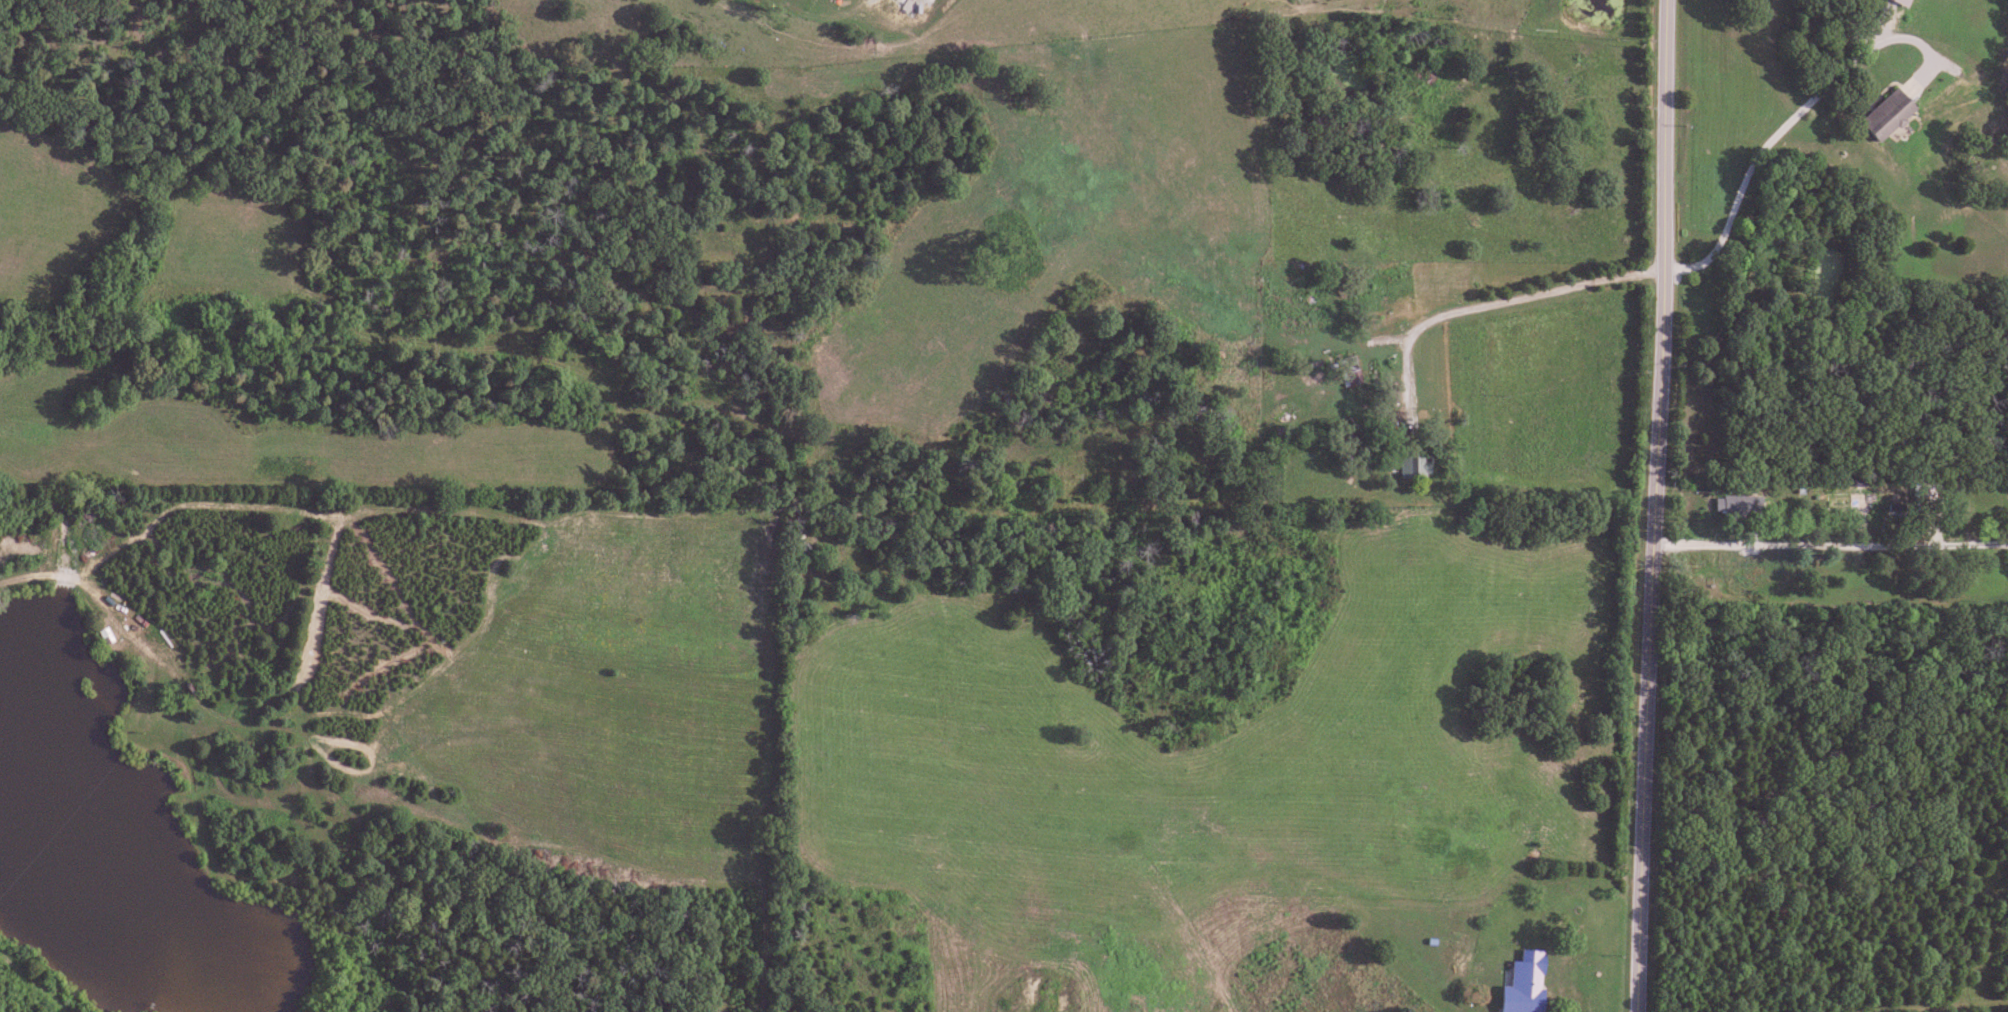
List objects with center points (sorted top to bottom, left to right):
road: (1784, 127)
road: (1524, 289)
building: (1837, 501)
building: (1738, 505)
road: (1657, 506)
road: (1831, 551)
building: (1525, 971)

